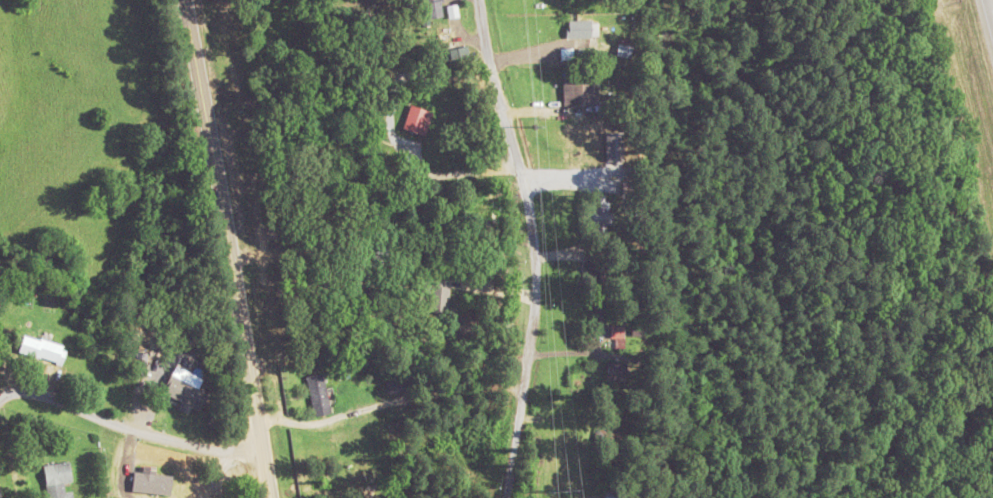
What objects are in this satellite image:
building: (432, 8)
road: (989, 12)
building: (581, 28)
building: (578, 90)
power tower: (532, 99)
building: (417, 119)
building: (323, 193)
building: (600, 210)
road: (532, 247)
road: (227, 248)
building: (370, 248)
building: (439, 292)
building: (618, 332)
building: (43, 348)
building: (134, 366)
building: (615, 369)
building: (399, 378)
building: (191, 381)
building: (319, 394)
road: (128, 426)
road: (224, 474)
building: (57, 480)
building: (144, 483)
power tower: (561, 493)

